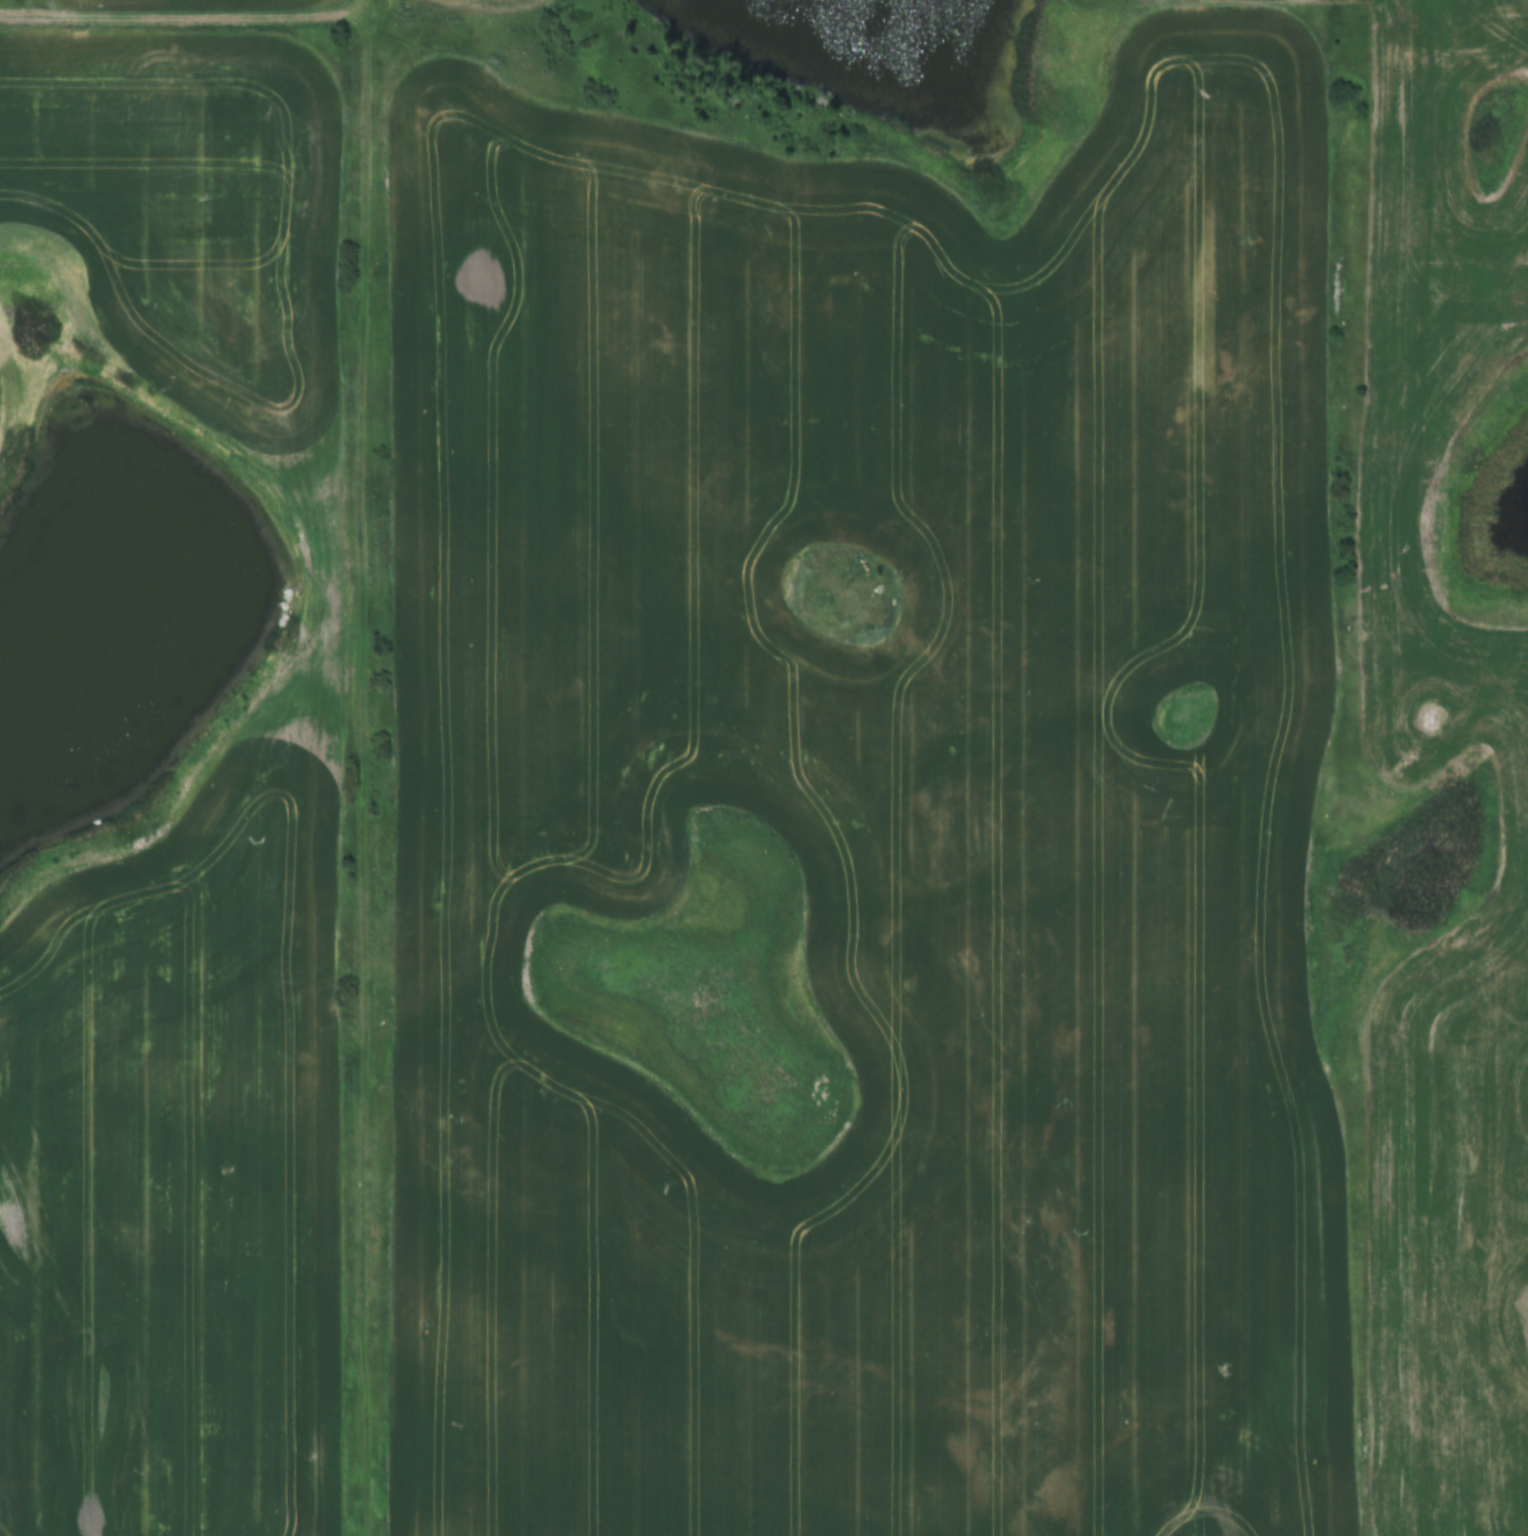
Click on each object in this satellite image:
road: (365, 767)

